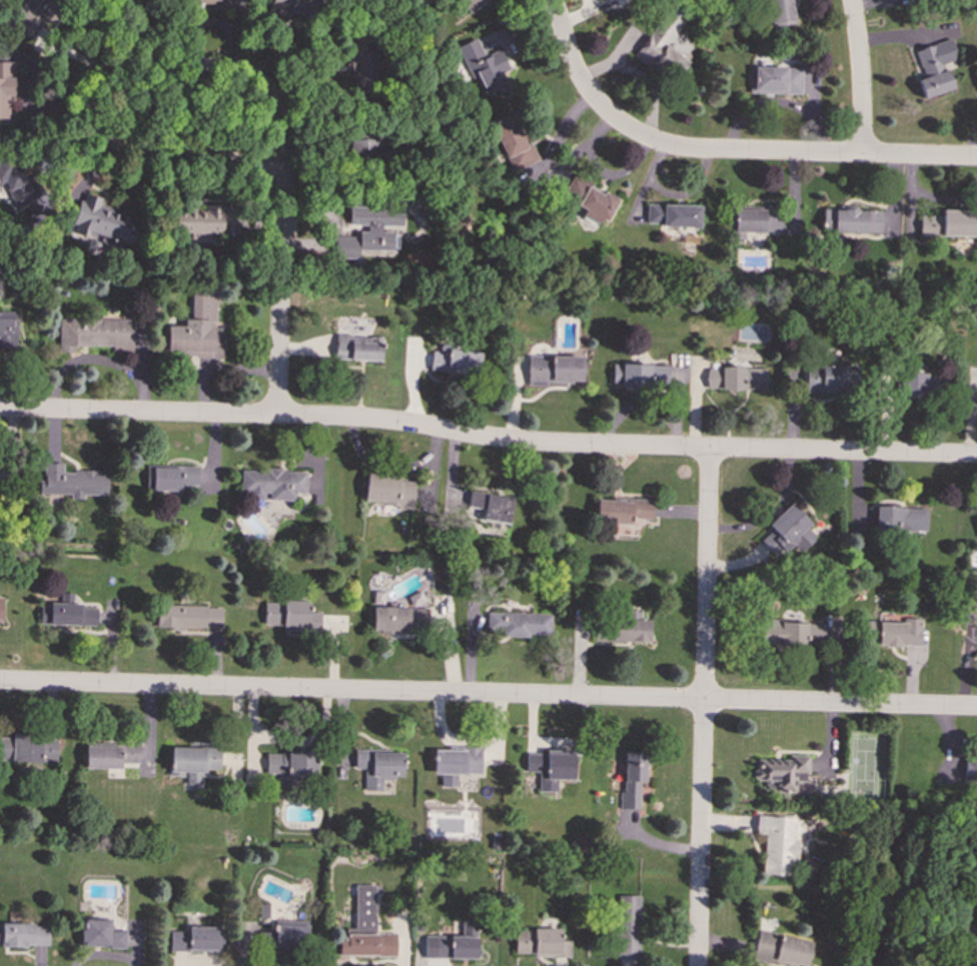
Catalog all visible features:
building: (215, 3)
building: (470, 4)
building: (293, 7)
building: (780, 12)
building: (32, 14)
building: (663, 43)
road: (149, 63)
building: (362, 63)
building: (483, 65)
building: (934, 67)
road: (861, 76)
building: (775, 80)
building: (5, 86)
building: (512, 143)
building: (366, 146)
road: (723, 151)
building: (17, 181)
building: (589, 199)
building: (672, 215)
building: (755, 219)
building: (200, 220)
building: (850, 220)
building: (100, 223)
building: (949, 224)
building: (369, 230)
road: (281, 293)
building: (7, 330)
building: (94, 333)
building: (192, 338)
building: (357, 348)
building: (455, 360)
building: (554, 369)
building: (639, 375)
building: (735, 378)
building: (830, 378)
building: (921, 384)
road: (487, 438)
building: (169, 477)
building: (71, 482)
building: (273, 484)
building: (387, 490)
building: (491, 505)
building: (620, 510)
building: (900, 517)
building: (785, 528)
building: (0, 608)
building: (67, 612)
building: (290, 615)
building: (188, 616)
building: (400, 616)
building: (519, 623)
building: (629, 628)
building: (790, 633)
building: (893, 633)
road: (488, 695)
road: (702, 707)
building: (28, 748)
building: (110, 756)
building: (192, 762)
building: (455, 764)
building: (290, 766)
building: (378, 766)
building: (550, 767)
building: (965, 769)
building: (781, 772)
building: (631, 778)
building: (776, 843)
building: (363, 909)
building: (261, 912)
building: (627, 927)
building: (100, 934)
building: (24, 935)
building: (288, 937)
building: (196, 939)
building: (540, 942)
building: (456, 944)
building: (366, 945)
building: (975, 948)
building: (779, 949)

